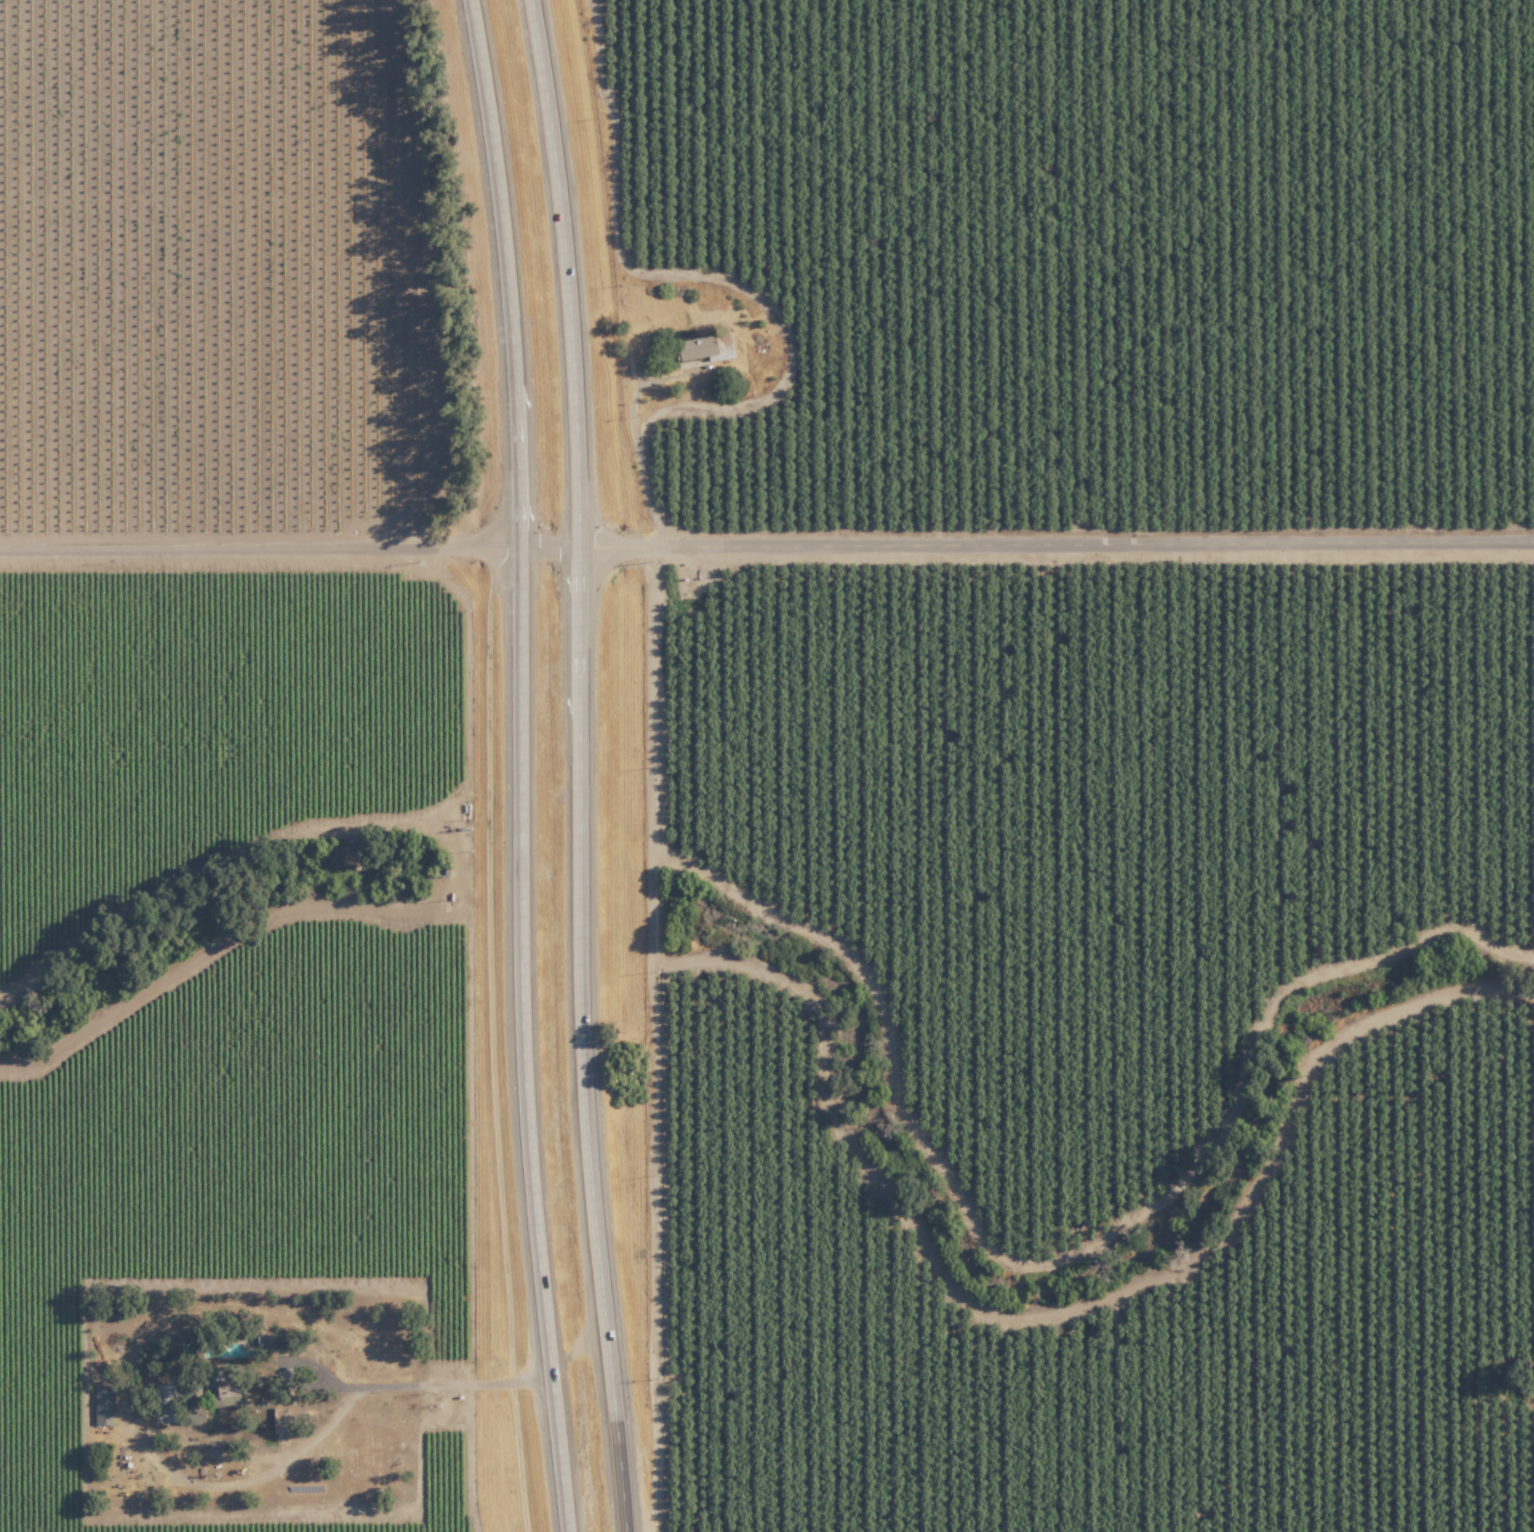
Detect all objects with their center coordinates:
building: (706, 347)
road: (635, 450)
road: (766, 532)
road: (524, 765)
road: (585, 765)
road: (461, 1386)
building: (104, 1404)

